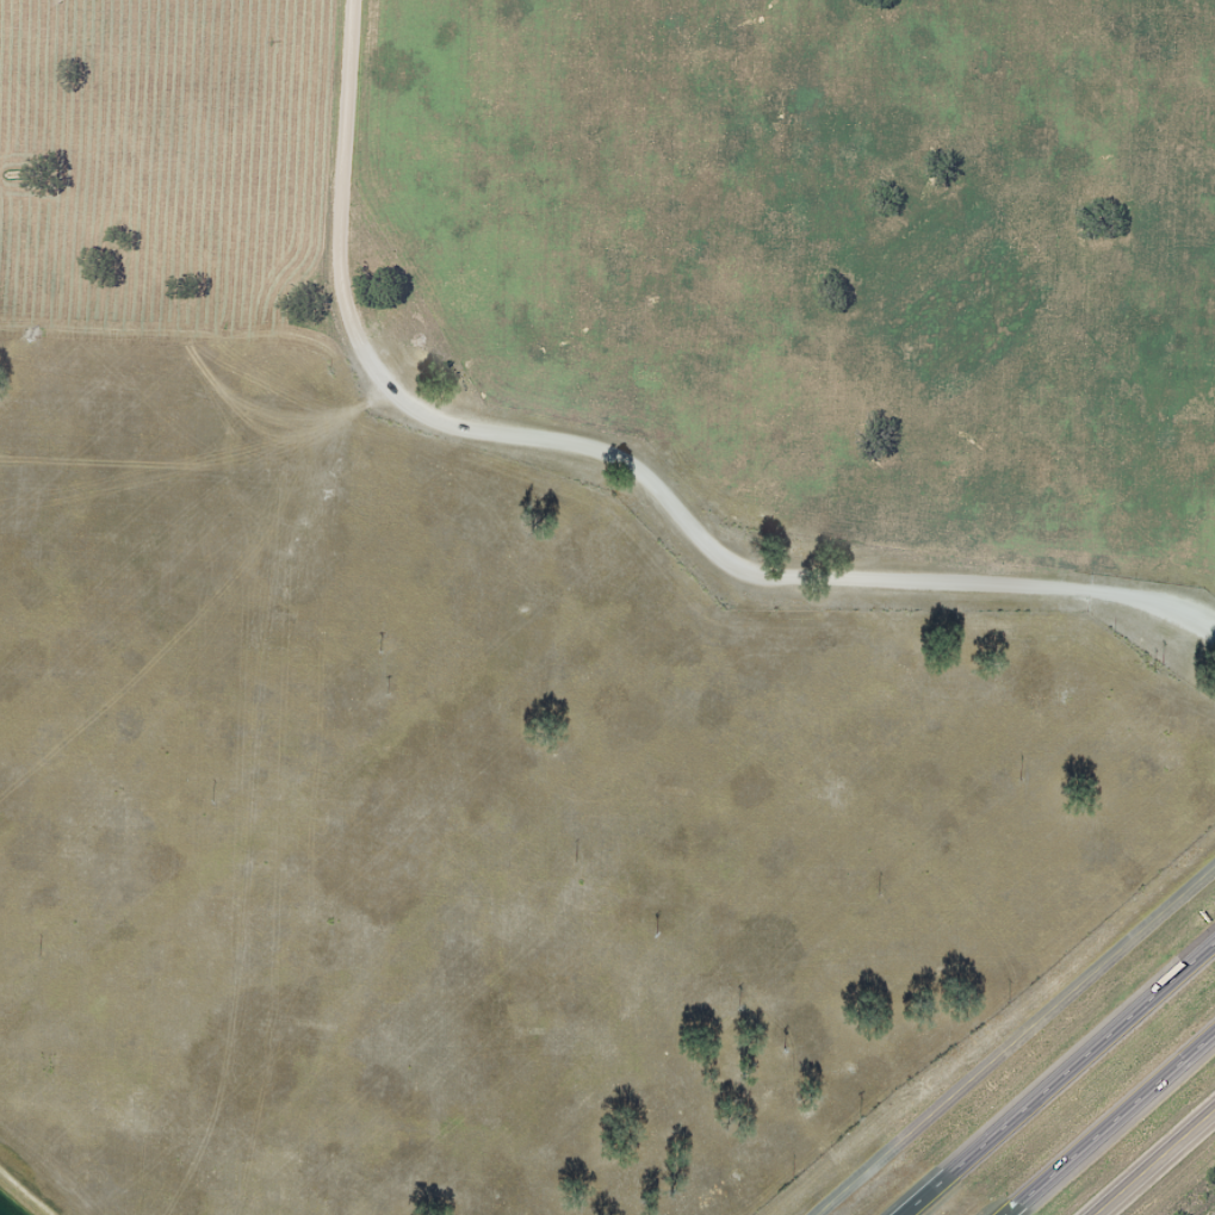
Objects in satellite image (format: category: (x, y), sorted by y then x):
road: (620, 461)
road: (1015, 1040)
road: (1056, 1075)
road: (1110, 1123)
road: (1158, 1161)

